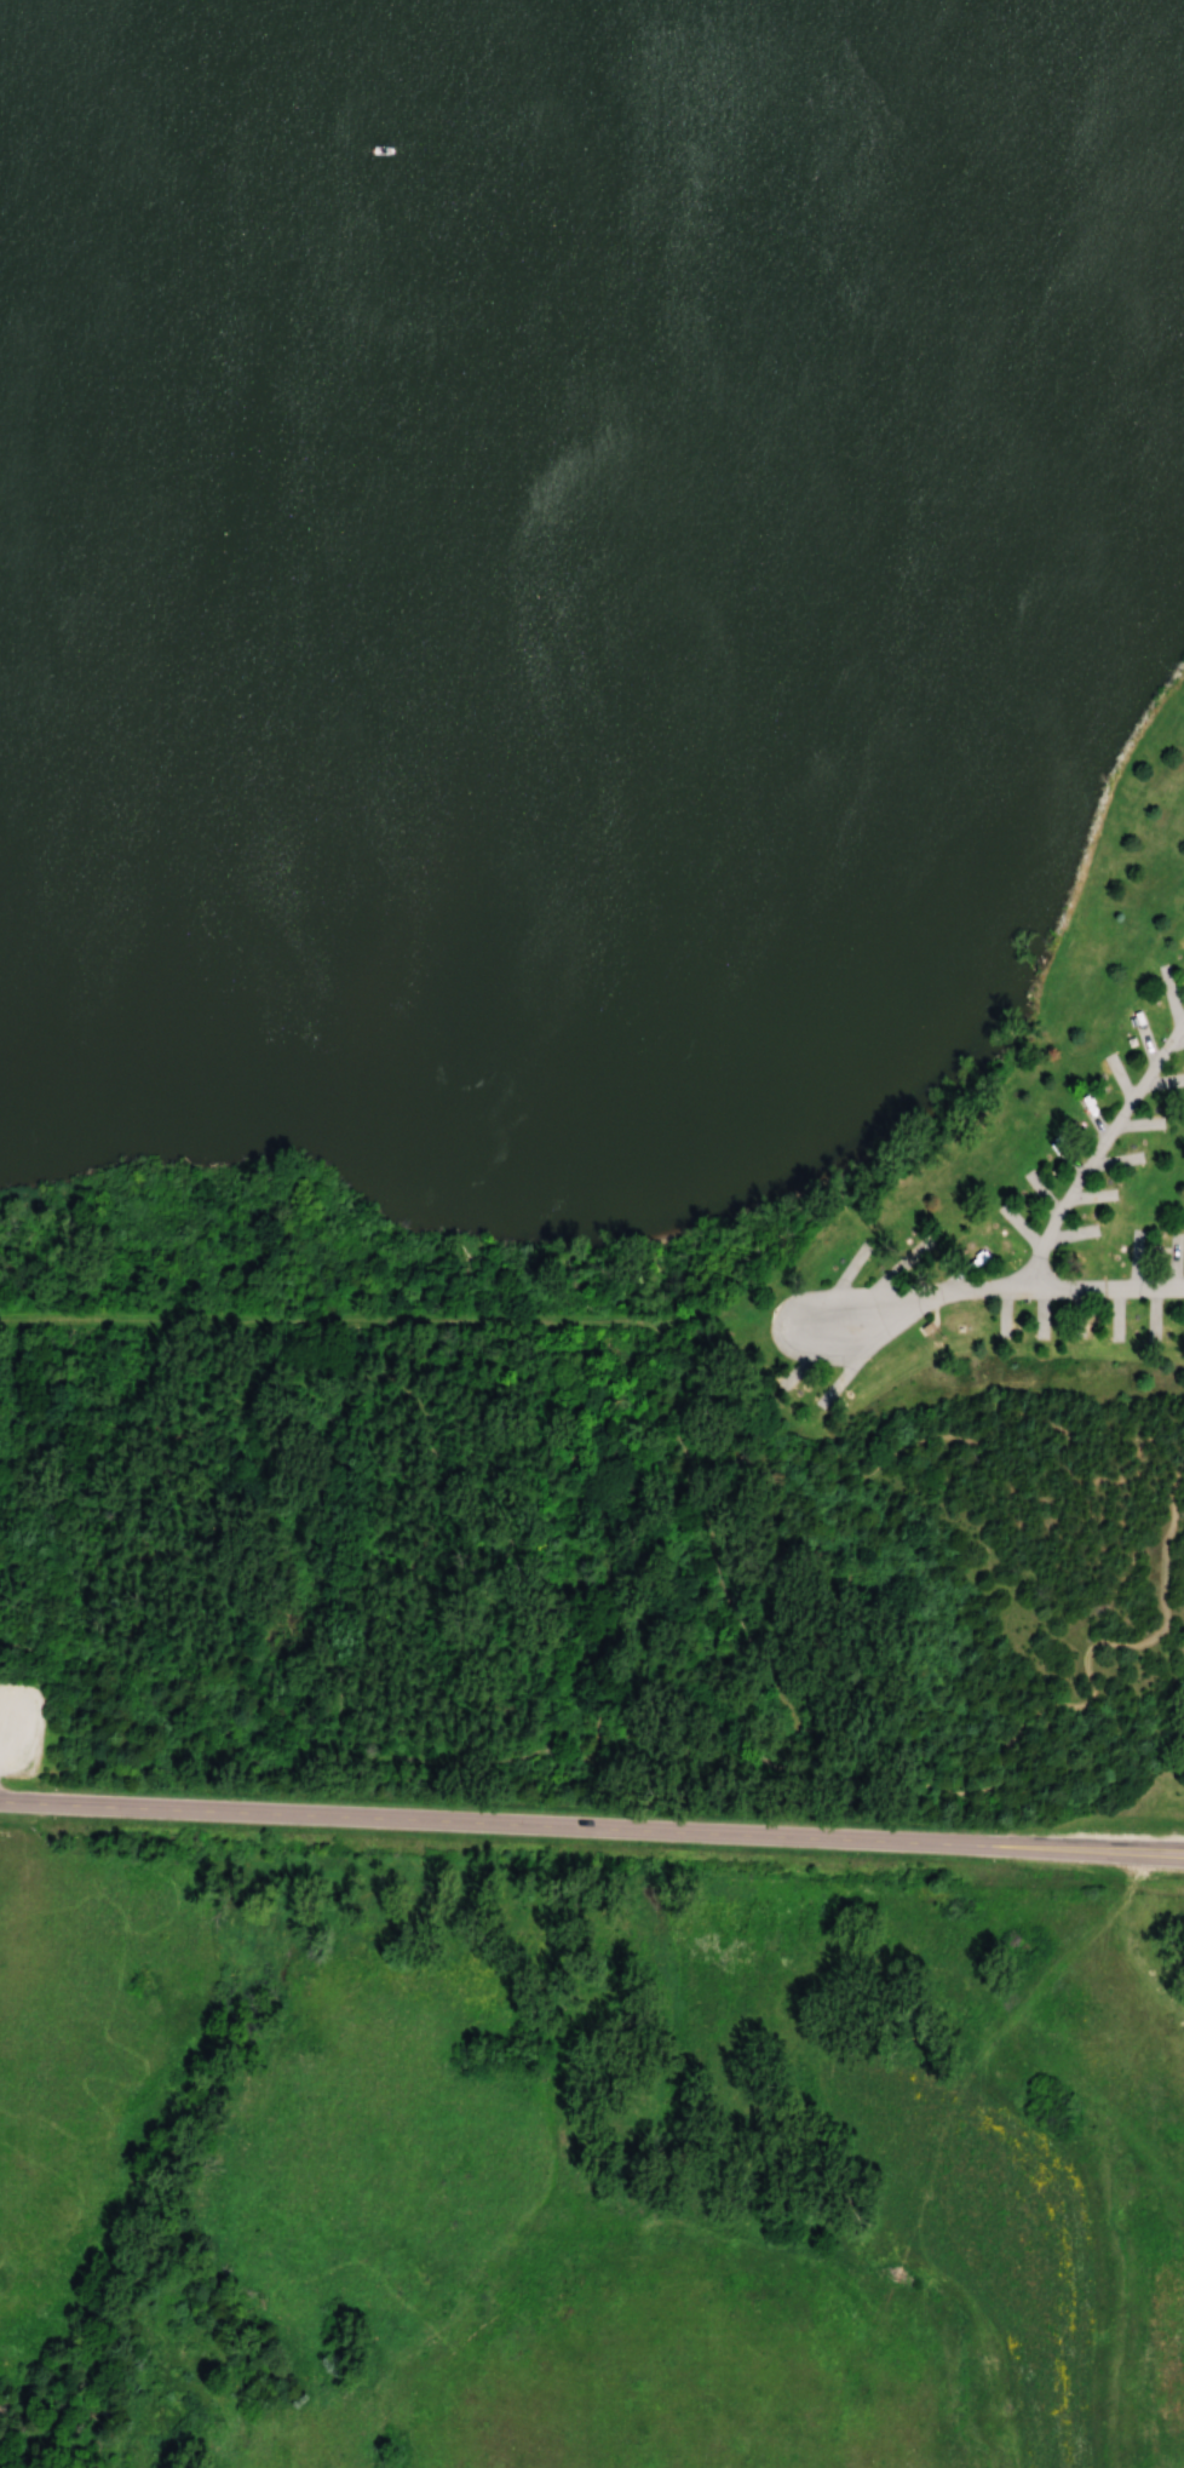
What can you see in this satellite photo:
park: (594, 909)
road: (1052, 1216)
road: (800, 1302)
road: (392, 1320)
road: (338, 1531)
road: (599, 1536)
road: (834, 1569)
road: (2, 1638)
parking lot: (21, 1727)
road: (680, 1752)
road: (592, 1819)

